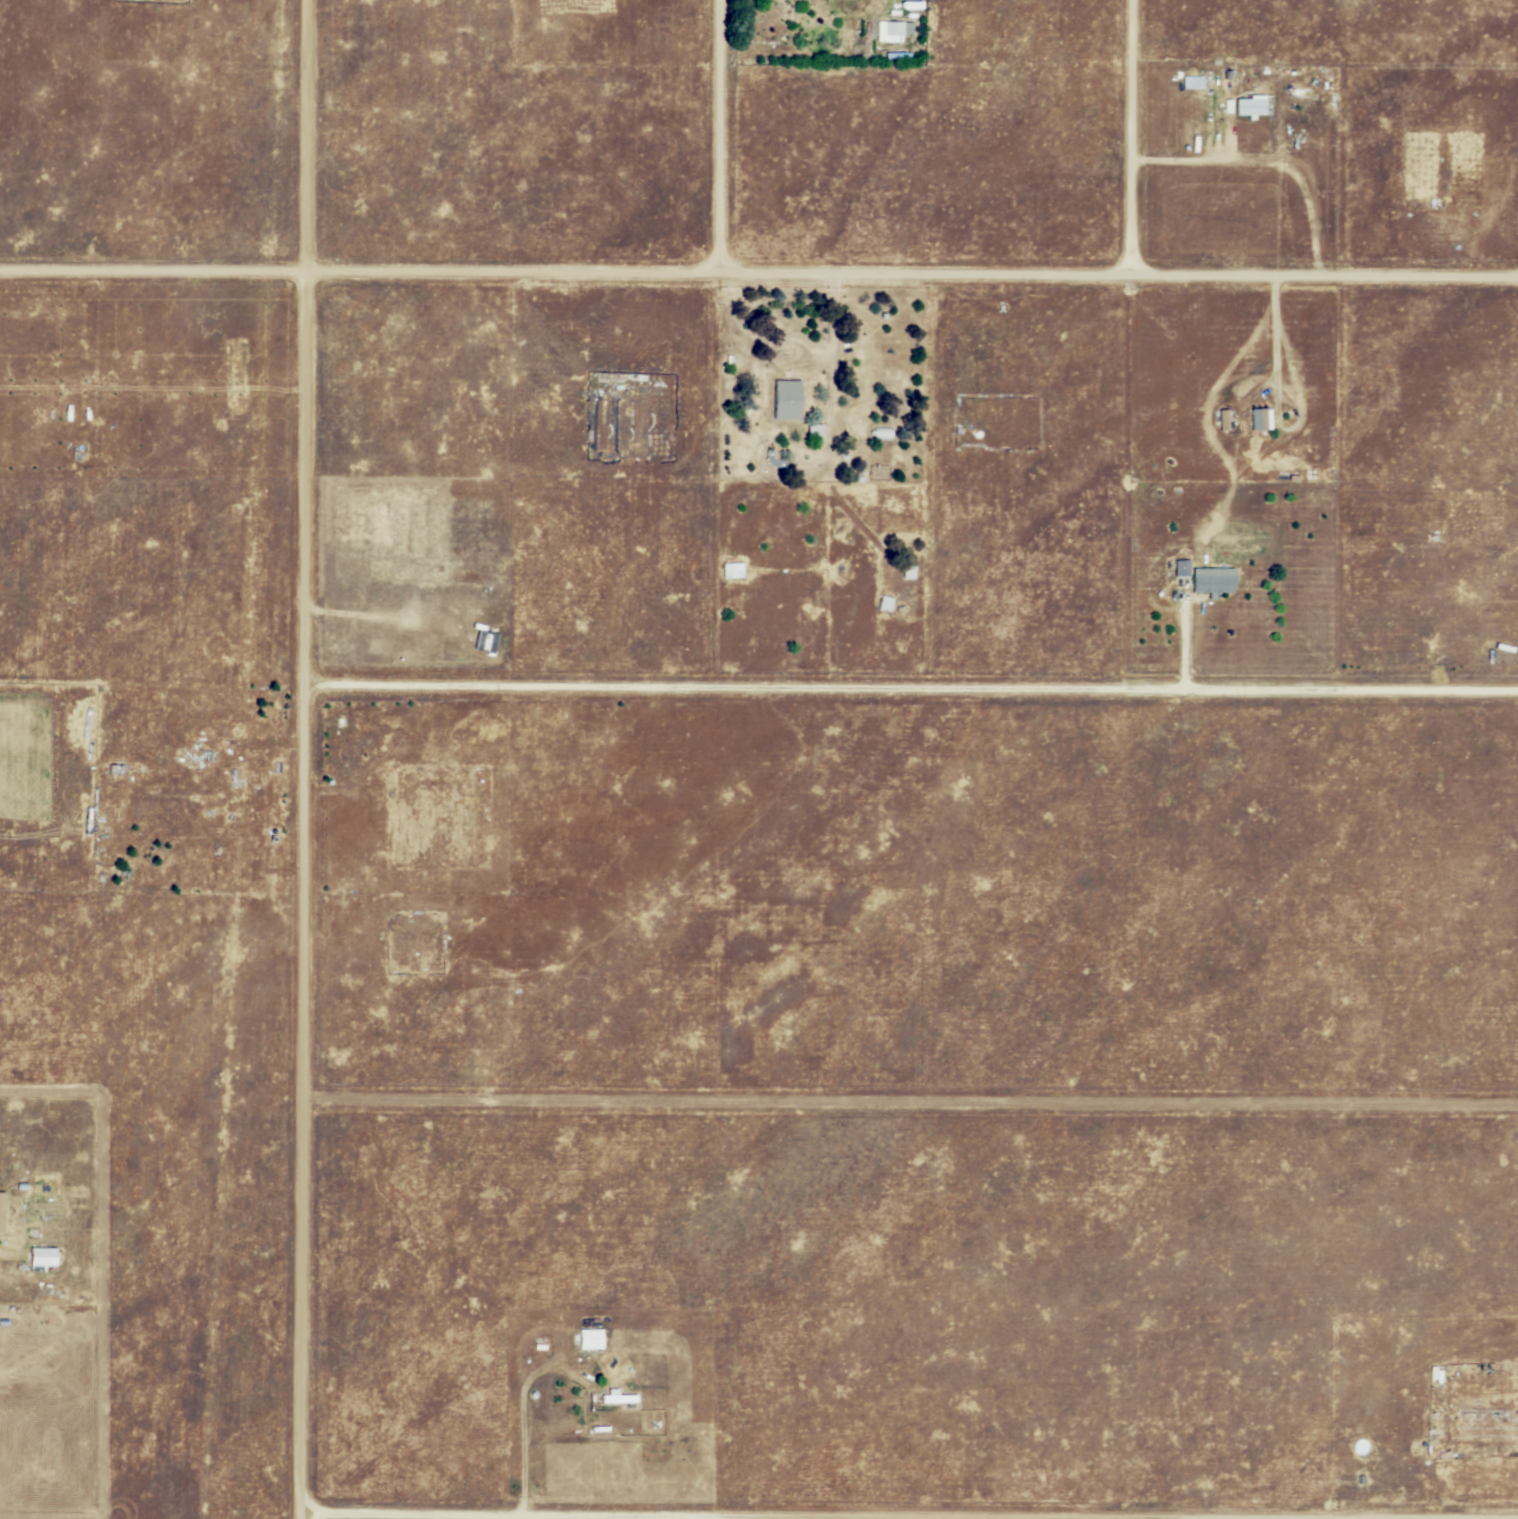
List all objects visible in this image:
building: (893, 30)
building: (1255, 106)
road: (715, 138)
road: (1127, 138)
road: (1232, 139)
road: (1267, 162)
road: (758, 276)
road: (1277, 336)
building: (731, 359)
building: (788, 399)
building: (1225, 418)
building: (1262, 418)
building: (817, 431)
building: (884, 434)
building: (775, 459)
building: (733, 570)
building: (906, 571)
building: (1205, 578)
storage tank: (1160, 593)
building: (884, 603)
road: (1184, 642)
road: (912, 690)
building: (341, 722)
road: (305, 756)
building: (118, 769)
road: (910, 1105)
building: (2, 1212)
building: (45, 1255)
building: (589, 1340)
building: (542, 1347)
road: (523, 1377)
building: (620, 1398)
road: (299, 1516)
road: (819, 1516)

